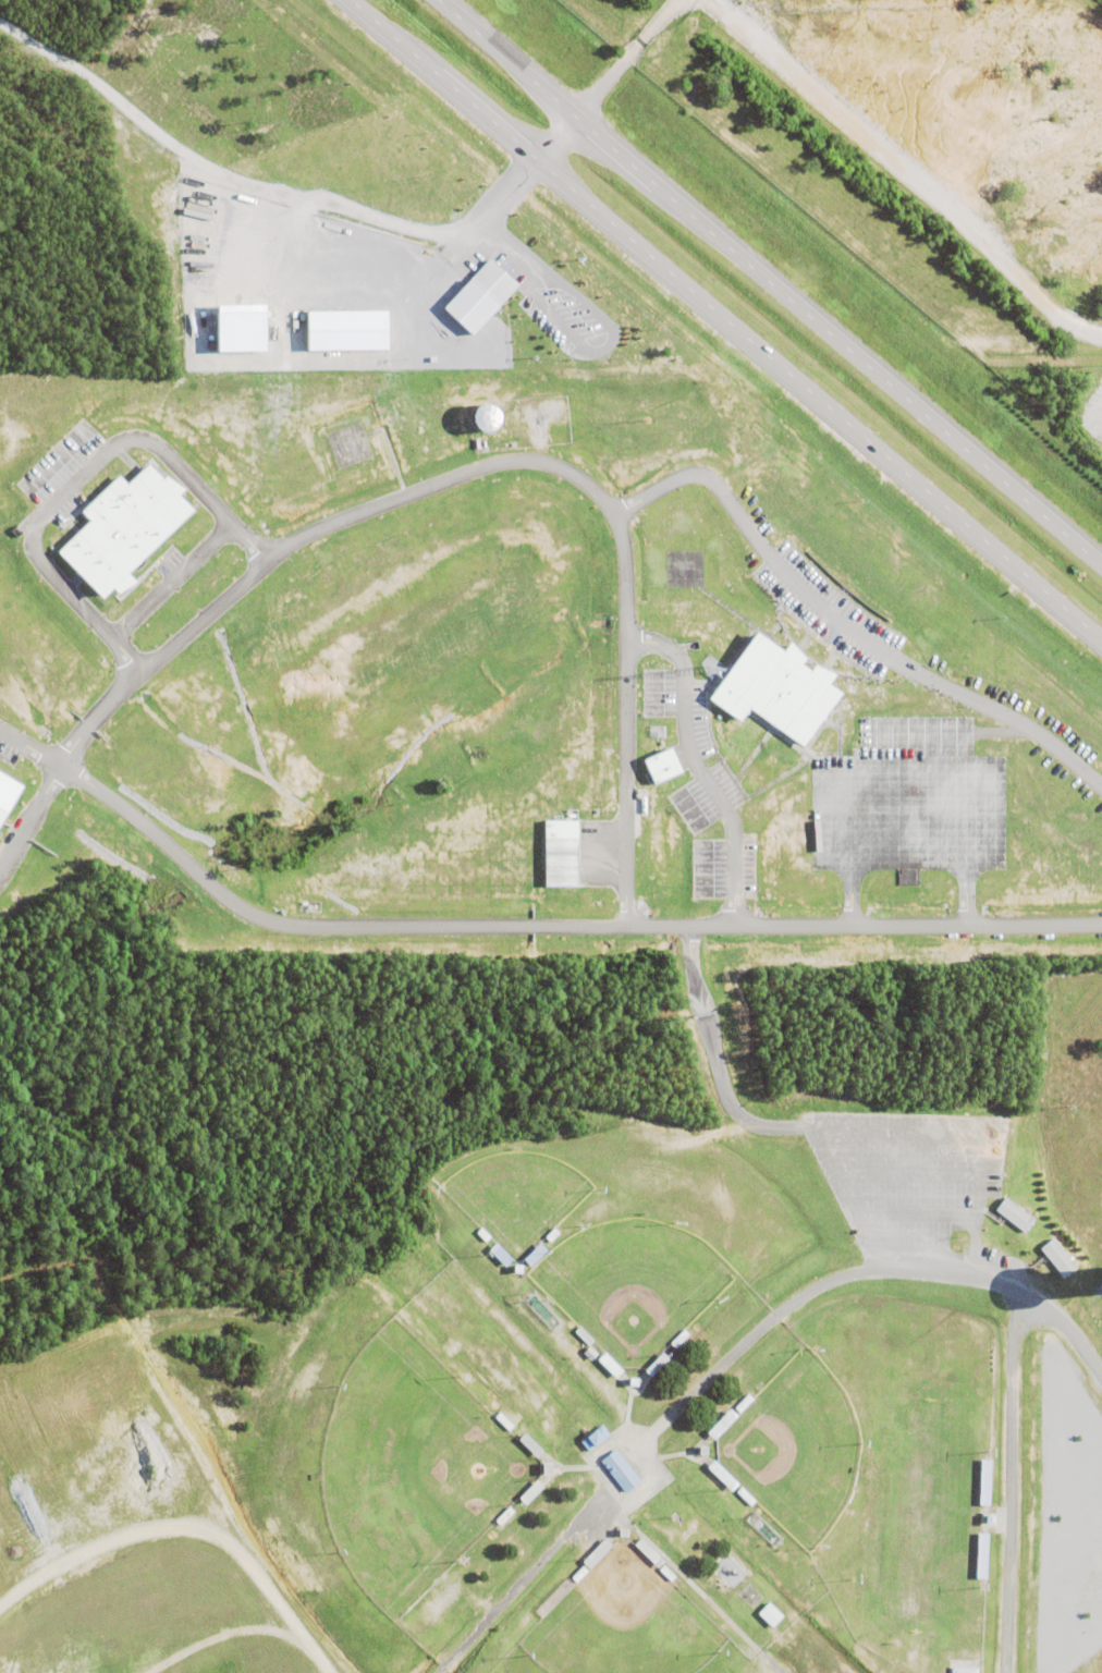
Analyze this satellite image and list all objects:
road: (601, 80)
road: (483, 218)
road: (769, 283)
building: (482, 295)
road: (725, 319)
building: (243, 328)
building: (348, 330)
road: (497, 461)
road: (76, 476)
building: (121, 526)
road: (167, 578)
road: (842, 622)
building: (772, 688)
road: (695, 764)
building: (664, 767)
building: (7, 790)
road: (29, 815)
building: (562, 854)
road: (518, 925)
road: (842, 1167)
parking lot: (907, 1180)
building: (514, 1195)
building: (1012, 1212)
building: (480, 1234)
building: (549, 1234)
building: (1054, 1255)
building: (515, 1267)
road: (866, 1270)
park: (629, 1281)
building: (580, 1334)
building: (676, 1338)
building: (587, 1352)
building: (607, 1363)
building: (654, 1363)
building: (630, 1380)
building: (740, 1402)
building: (501, 1419)
building: (719, 1422)
building: (591, 1437)
building: (527, 1443)
park: (794, 1446)
building: (700, 1449)
park: (408, 1466)
building: (544, 1466)
building: (624, 1469)
building: (720, 1474)
road: (1007, 1482)
building: (528, 1490)
building: (743, 1495)
building: (502, 1514)
building: (987, 1516)
building: (620, 1530)
building: (646, 1550)
building: (593, 1552)
building: (664, 1572)
building: (576, 1573)
building: (768, 1613)
park: (620, 1621)
building: (960, 1669)

